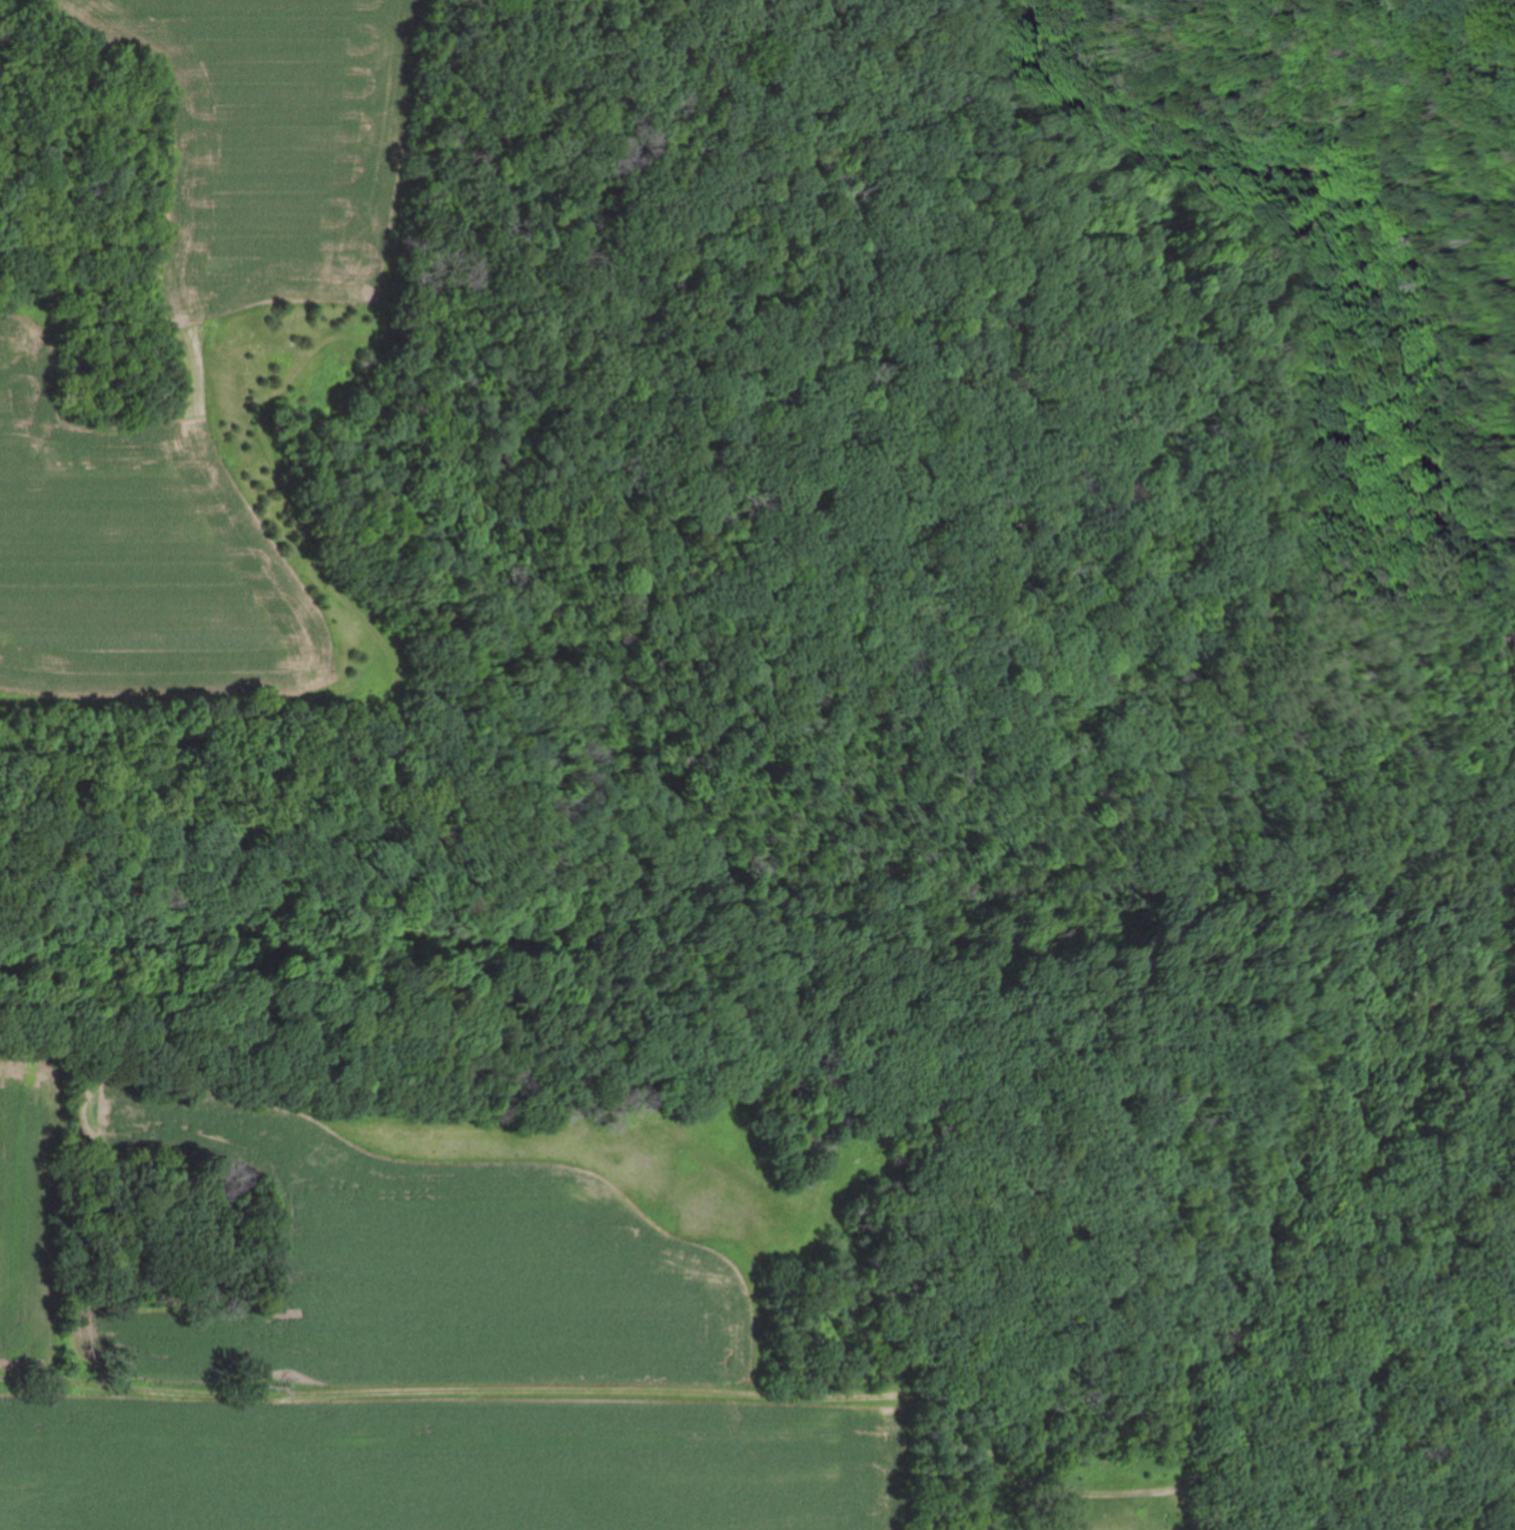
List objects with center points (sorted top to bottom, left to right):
park: (777, 1182)

